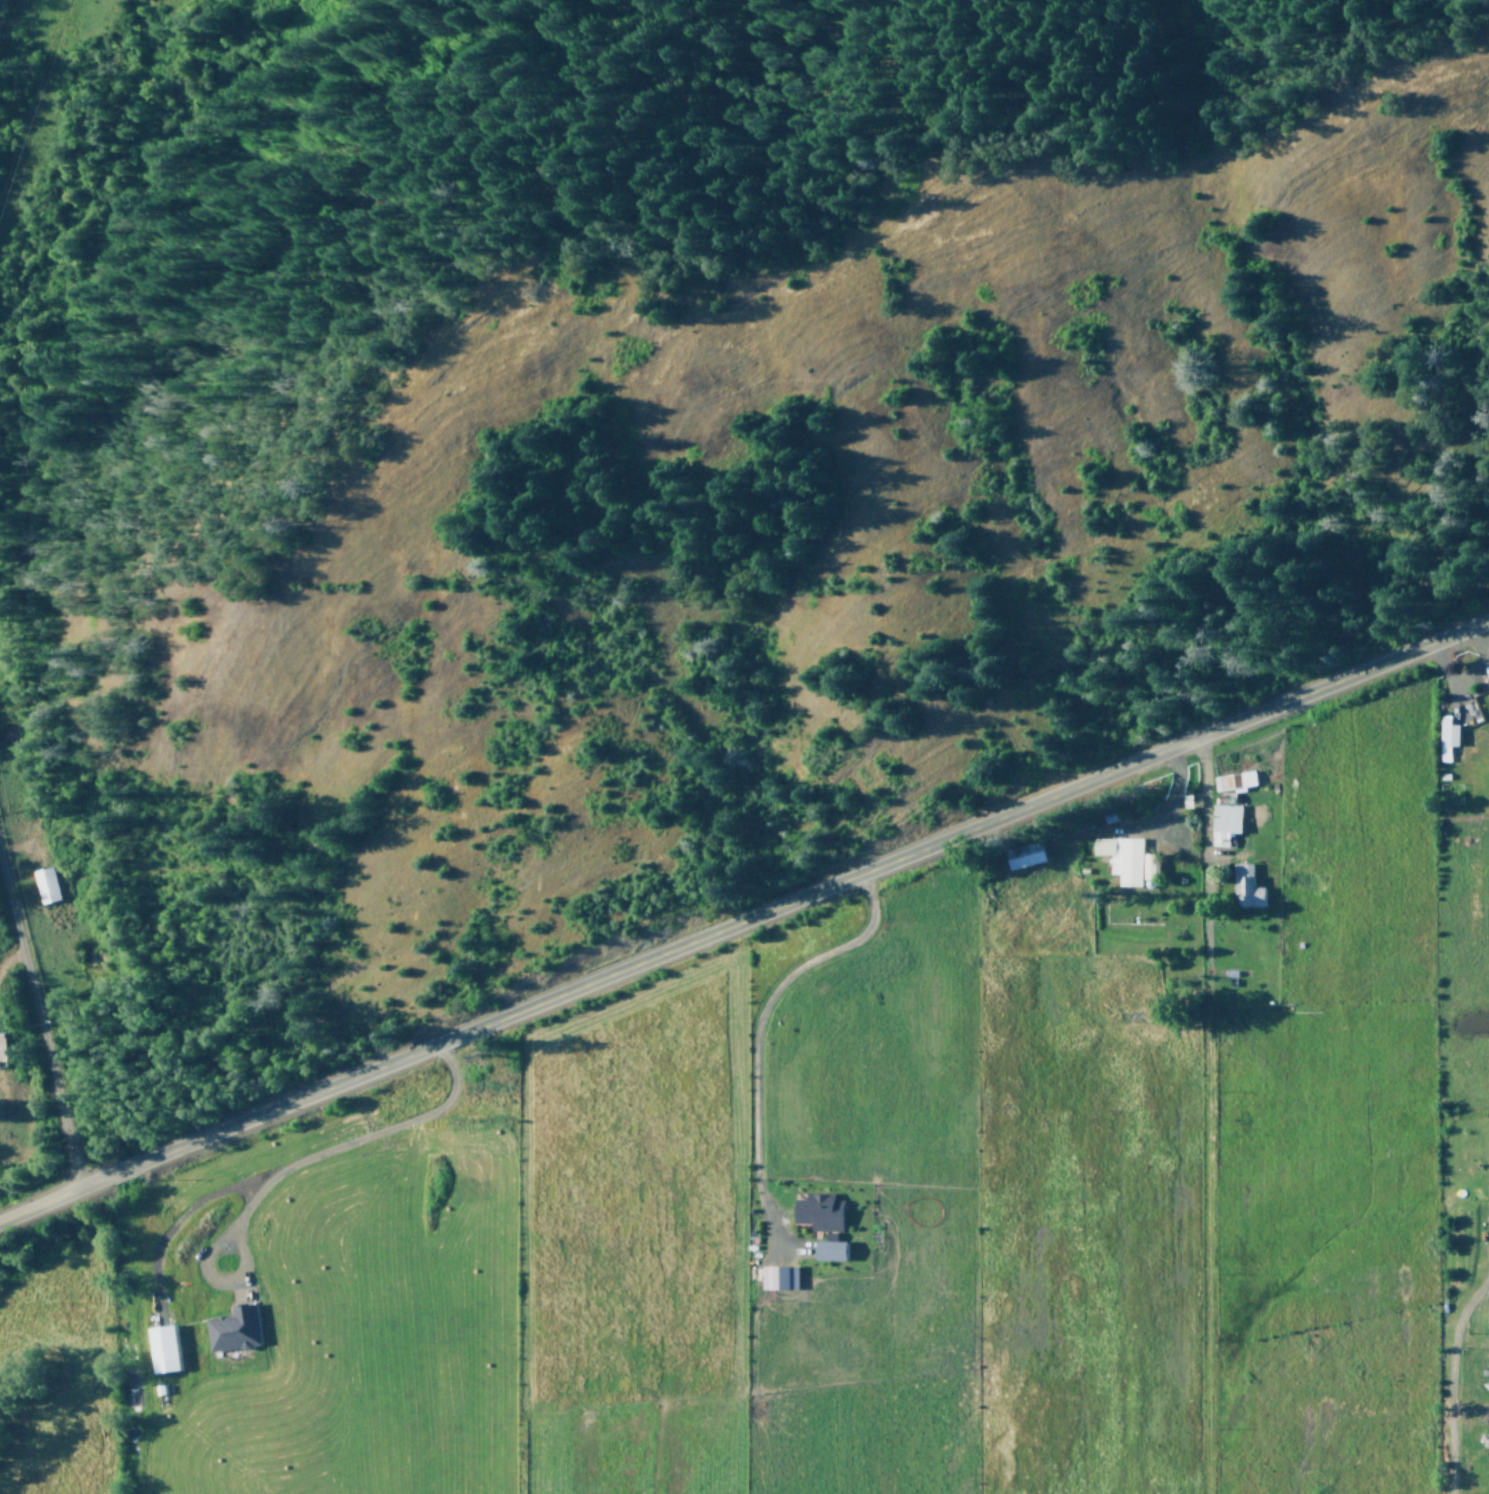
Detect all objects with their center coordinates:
building: (1486, 683)
building: (1446, 737)
building: (1232, 780)
building: (1223, 822)
building: (1023, 855)
building: (1125, 858)
building: (44, 884)
building: (1244, 886)
road: (743, 917)
road: (38, 1025)
building: (1, 1051)
building: (1488, 1201)
building: (817, 1211)
building: (777, 1277)
building: (232, 1329)
building: (160, 1349)

